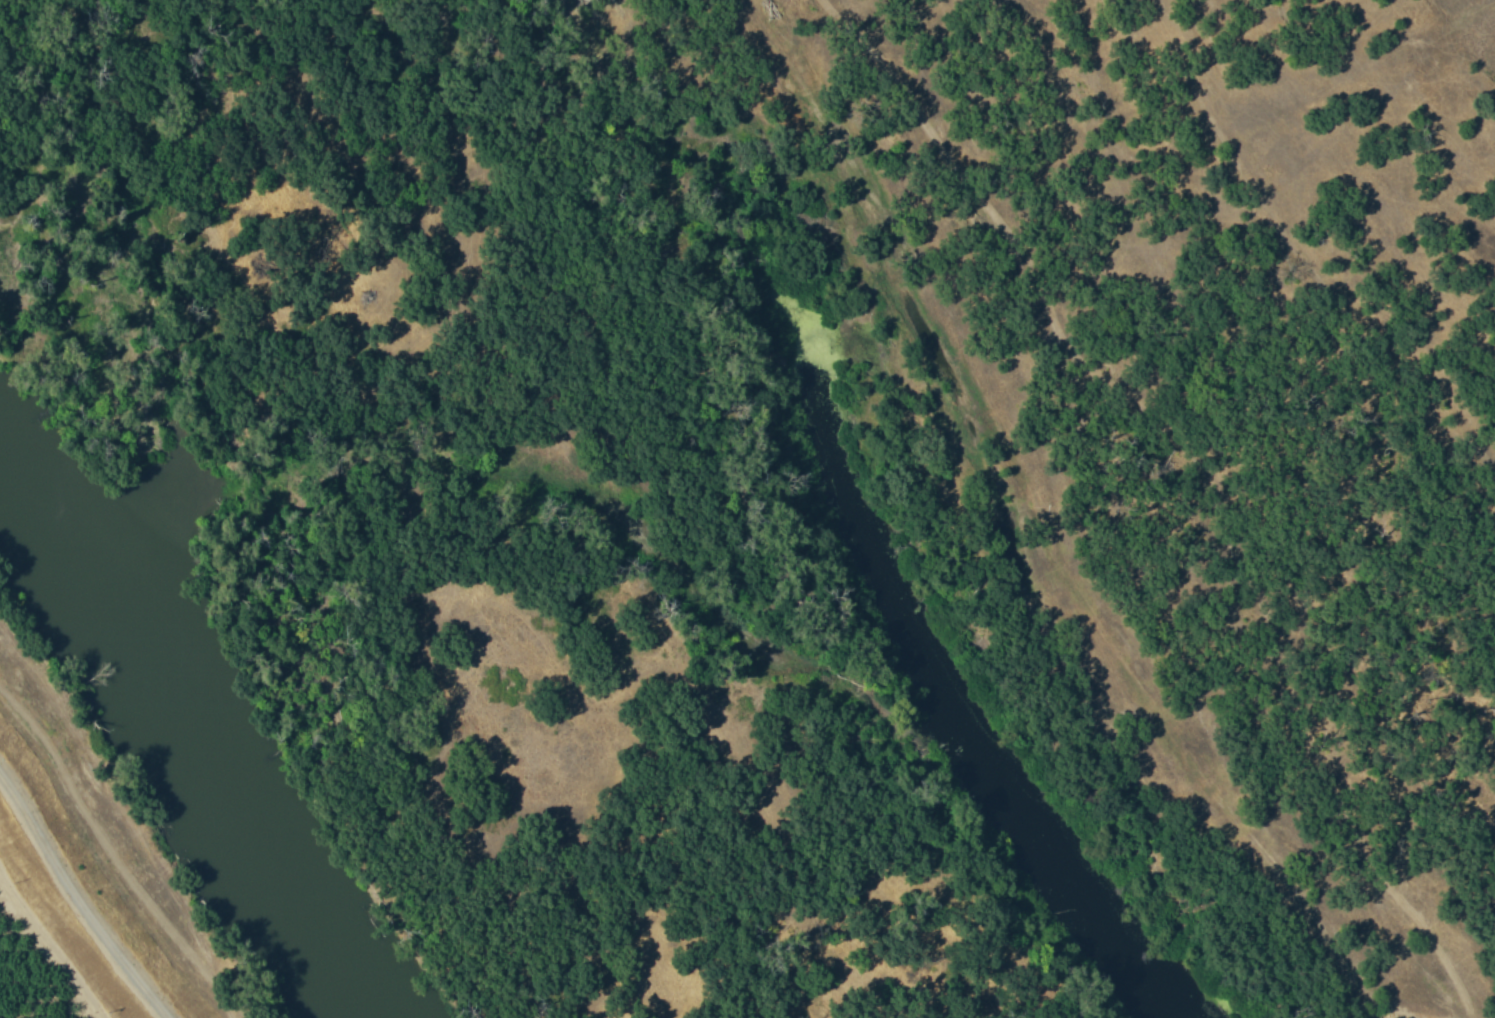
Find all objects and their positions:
road: (77, 900)

